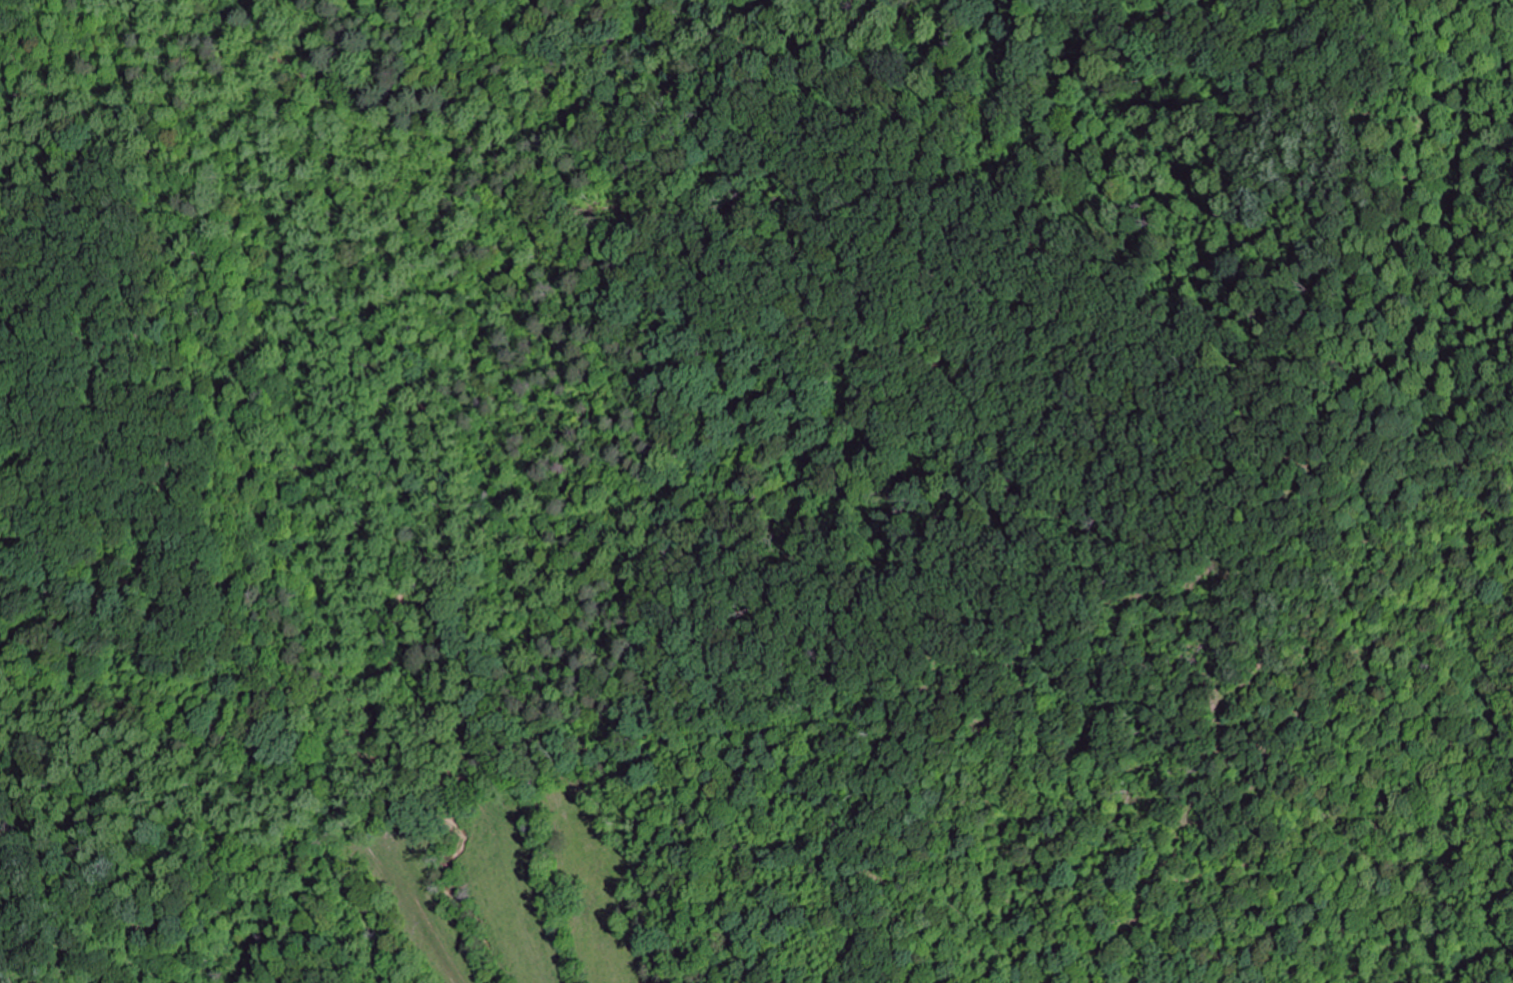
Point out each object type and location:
road: (264, 808)

